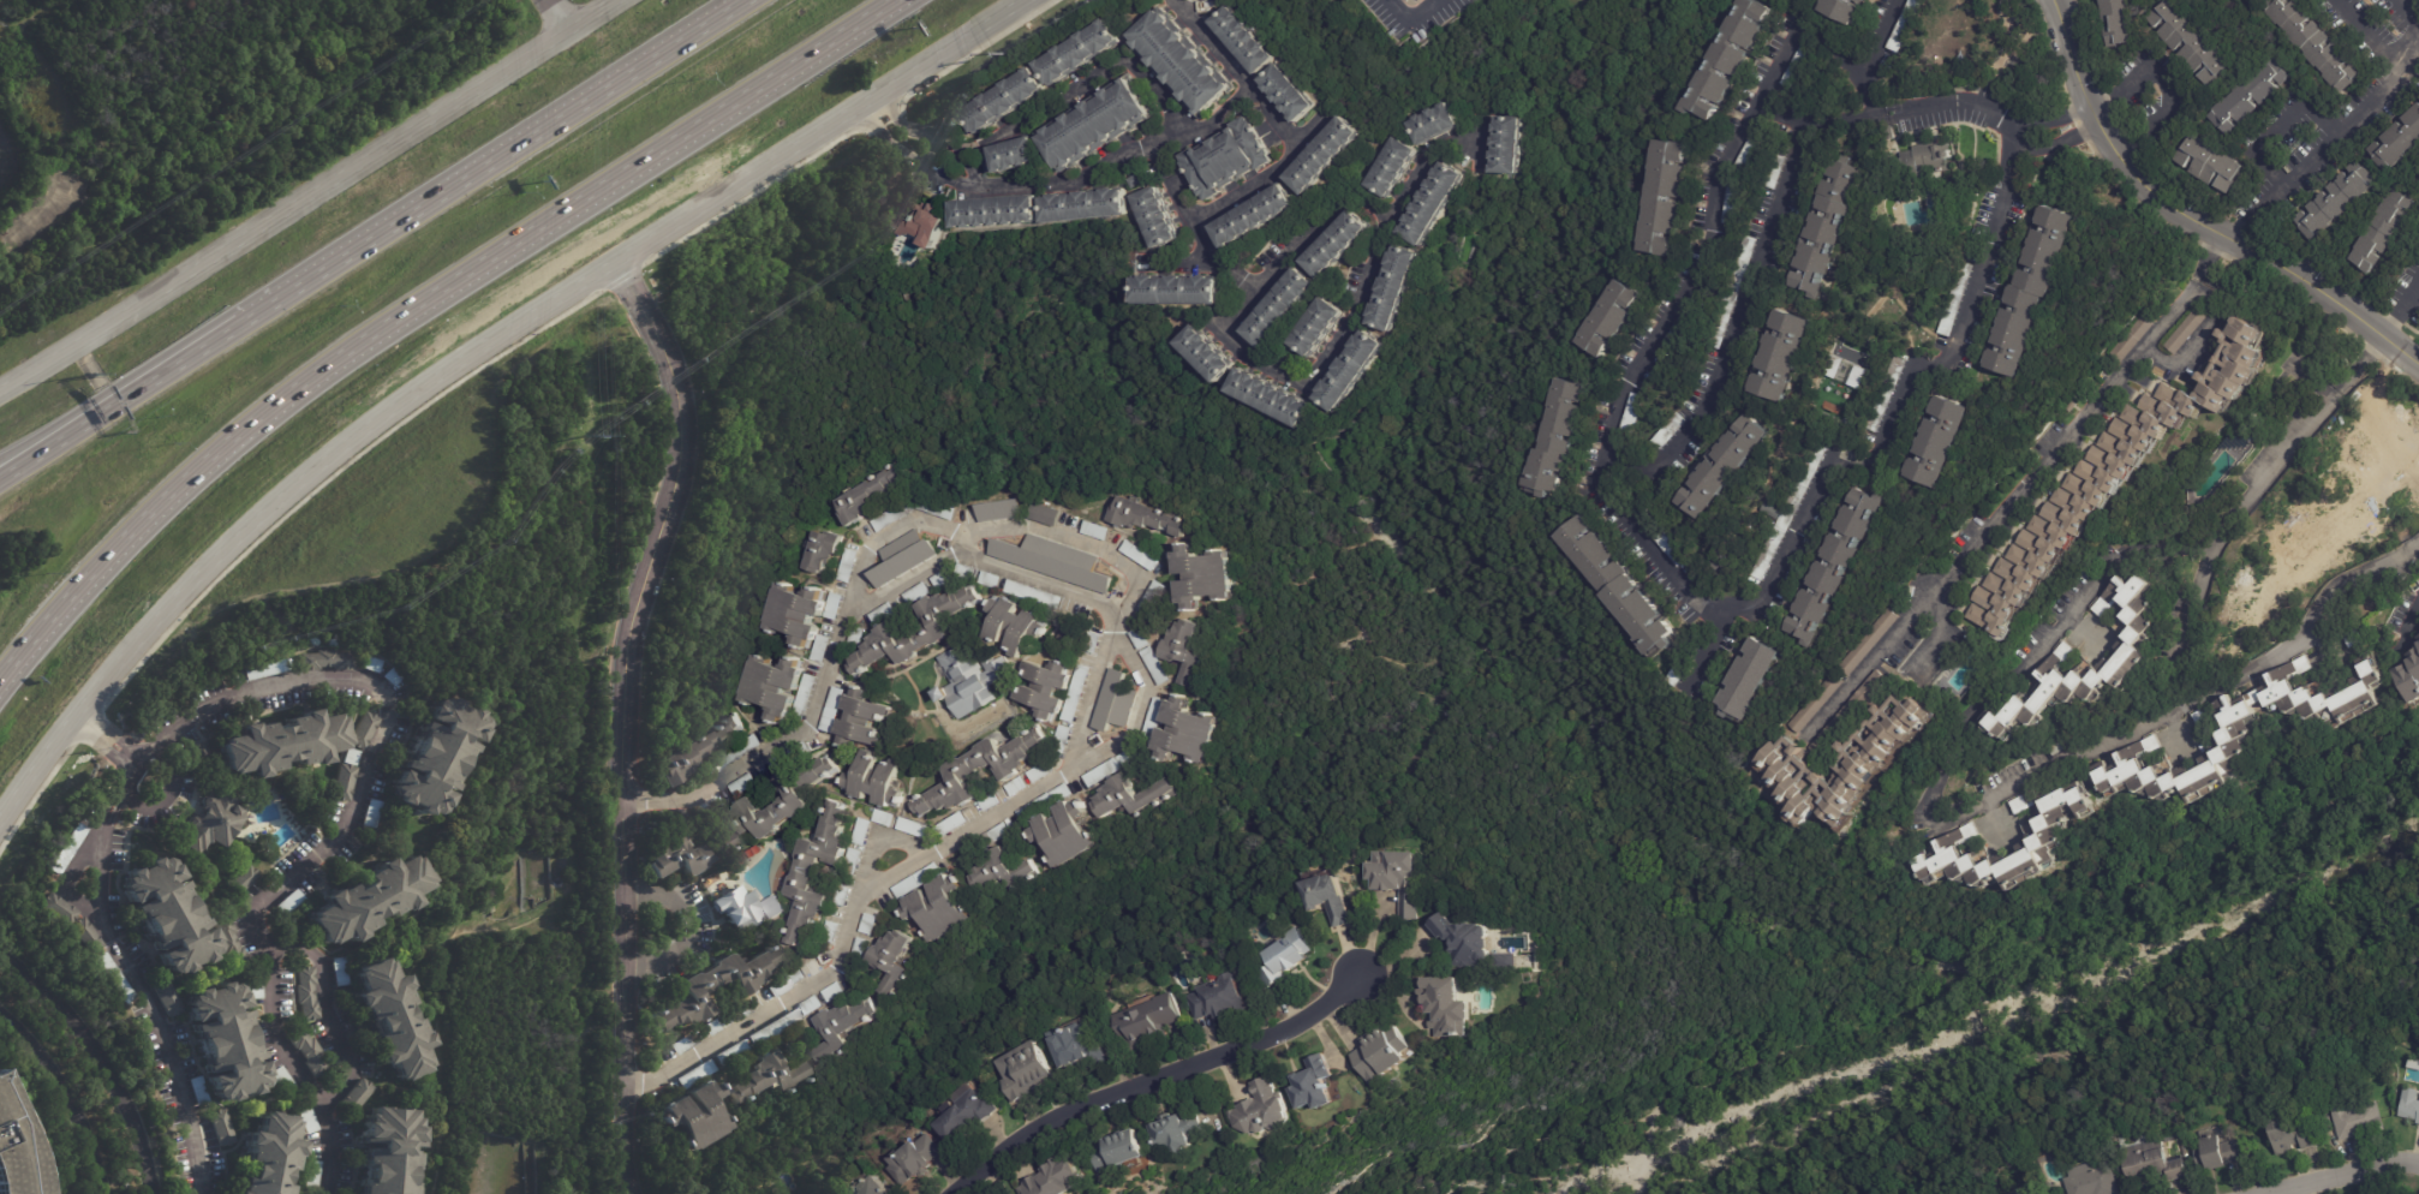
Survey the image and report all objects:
building: (2210, 1)
building: (2200, 2)
building: (1846, 10)
road: (560, 17)
road: (1410, 19)
building: (2125, 23)
building: (1909, 25)
road: (2417, 31)
road: (1796, 34)
road: (2369, 35)
building: (1246, 40)
building: (2187, 41)
building: (2310, 43)
building: (1079, 53)
road: (1868, 56)
building: (1731, 59)
building: (1179, 64)
building: (1799, 67)
road: (1243, 80)
road: (2167, 83)
building: (1965, 84)
building: (1290, 92)
building: (2245, 97)
road: (1955, 100)
building: (1002, 102)
road: (1171, 111)
road: (2053, 115)
building: (1433, 123)
building: (1095, 125)
road: (2278, 127)
road: (914, 130)
road: (2018, 141)
road: (2061, 141)
building: (2395, 141)
road: (393, 145)
building: (1505, 145)
road: (895, 149)
road: (931, 153)
road: (2321, 153)
building: (1750, 154)
building: (1009, 155)
building: (1325, 156)
building: (1959, 157)
road: (2015, 157)
building: (1226, 160)
road: (498, 161)
building: (1927, 161)
building: (2206, 165)
building: (1391, 168)
road: (1420, 169)
building: (1778, 169)
road: (969, 171)
building: (1135, 181)
road: (1172, 181)
road: (964, 183)
building: (1666, 198)
building: (2333, 201)
building: (1733, 202)
building: (1433, 203)
building: (1085, 207)
road: (697, 210)
building: (996, 213)
road: (2197, 213)
building: (1155, 217)
building: (1253, 217)
building: (1830, 225)
building: (926, 226)
building: (2378, 234)
building: (1336, 245)
road: (2211, 253)
road: (1181, 261)
building: (1393, 288)
building: (1175, 291)
building: (2035, 291)
building: (1736, 293)
road: (1744, 299)
road: (422, 302)
building: (1959, 302)
road: (2400, 304)
building: (1279, 308)
building: (1612, 320)
building: (1315, 328)
building: (1682, 330)
building: (2182, 333)
road: (82, 339)
building: (2131, 339)
building: (1203, 354)
building: (1787, 359)
road: (2358, 360)
road: (2182, 365)
road: (483, 366)
road: (1272, 366)
road: (171, 370)
building: (1349, 370)
building: (1888, 395)
building: (1268, 398)
building: (1633, 414)
building: (1672, 432)
road: (46, 438)
building: (1941, 442)
building: (1557, 443)
road: (46, 447)
building: (1730, 468)
building: (2114, 473)
building: (871, 492)
road: (2230, 506)
road: (2002, 507)
building: (999, 511)
building: (1791, 513)
building: (1044, 514)
building: (894, 515)
building: (1148, 518)
road: (890, 532)
road: (1075, 542)
road: (2158, 547)
building: (1673, 549)
building: (820, 550)
building: (1139, 555)
building: (903, 557)
building: (1724, 560)
building: (847, 562)
road: (1660, 562)
building: (1049, 565)
building: (1841, 567)
building: (1200, 577)
building: (1619, 586)
road: (168, 603)
building: (884, 611)
building: (794, 614)
road: (2408, 620)
building: (1014, 622)
road: (1939, 626)
building: (915, 631)
building: (2348, 637)
building: (1869, 643)
building: (2418, 643)
road: (1713, 645)
building: (1182, 649)
building: (2128, 652)
building: (323, 659)
building: (368, 664)
road: (1104, 665)
building: (264, 669)
building: (388, 676)
building: (1679, 677)
building: (2409, 677)
building: (1752, 681)
road: (625, 682)
building: (969, 682)
building: (771, 686)
building: (1044, 688)
building: (1113, 702)
building: (1817, 704)
road: (1139, 711)
building: (861, 720)
road: (381, 726)
building: (362, 729)
building: (2236, 730)
building: (1183, 732)
building: (280, 741)
road: (136, 748)
building: (1869, 750)
building: (694, 751)
building: (201, 754)
building: (432, 754)
building: (350, 756)
road: (162, 760)
building: (823, 770)
building: (979, 771)
building: (1035, 774)
road: (2045, 775)
building: (342, 781)
building: (876, 781)
park: (1283, 783)
building: (1015, 786)
building: (1128, 796)
road: (649, 798)
building: (2023, 802)
building: (370, 812)
building: (764, 814)
building: (211, 822)
building: (951, 824)
building: (1065, 832)
road: (877, 840)
building: (1954, 842)
building: (66, 848)
building: (675, 858)
building: (999, 872)
building: (816, 874)
building: (1398, 878)
building: (241, 879)
building: (916, 880)
road: (2391, 897)
building: (1332, 899)
building: (366, 900)
building: (291, 902)
building: (772, 907)
building: (937, 907)
building: (58, 908)
building: (737, 908)
building: (167, 914)
road: (693, 926)
building: (295, 927)
building: (86, 936)
road: (1972, 937)
building: (231, 942)
building: (1465, 942)
building: (1288, 959)
building: (891, 960)
building: (1507, 962)
building: (341, 972)
building: (115, 978)
building: (786, 983)
building: (256, 984)
building: (712, 986)
building: (309, 993)
road: (144, 997)
building: (167, 998)
building: (1219, 998)
building: (1450, 1007)
road: (329, 1011)
building: (392, 1020)
building: (1151, 1022)
building: (843, 1026)
road: (2120, 1028)
building: (225, 1041)
building: (1079, 1046)
building: (307, 1051)
road: (283, 1053)
building: (1382, 1053)
road: (104, 1055)
building: (1025, 1071)
road: (644, 1077)
building: (764, 1077)
road: (1154, 1077)
building: (283, 1080)
building: (1315, 1085)
building: (198, 1091)
road: (68, 1093)
building: (356, 1097)
building: (2411, 1105)
building: (1264, 1110)
building: (694, 1114)
building: (967, 1116)
building: (2360, 1116)
building: (307, 1120)
building: (222, 1128)
building: (1179, 1132)
building: (2293, 1134)
building: (388, 1150)
building: (14, 1151)
building: (1122, 1152)
building: (2223, 1153)
building: (269, 1156)
building: (914, 1160)
road: (633, 1162)
building: (2154, 1164)
building: (312, 1175)
road: (2342, 1175)
building: (1063, 1178)
building: (2095, 1181)
building: (867, 1186)
building: (2030, 1190)
building: (829, 1192)

